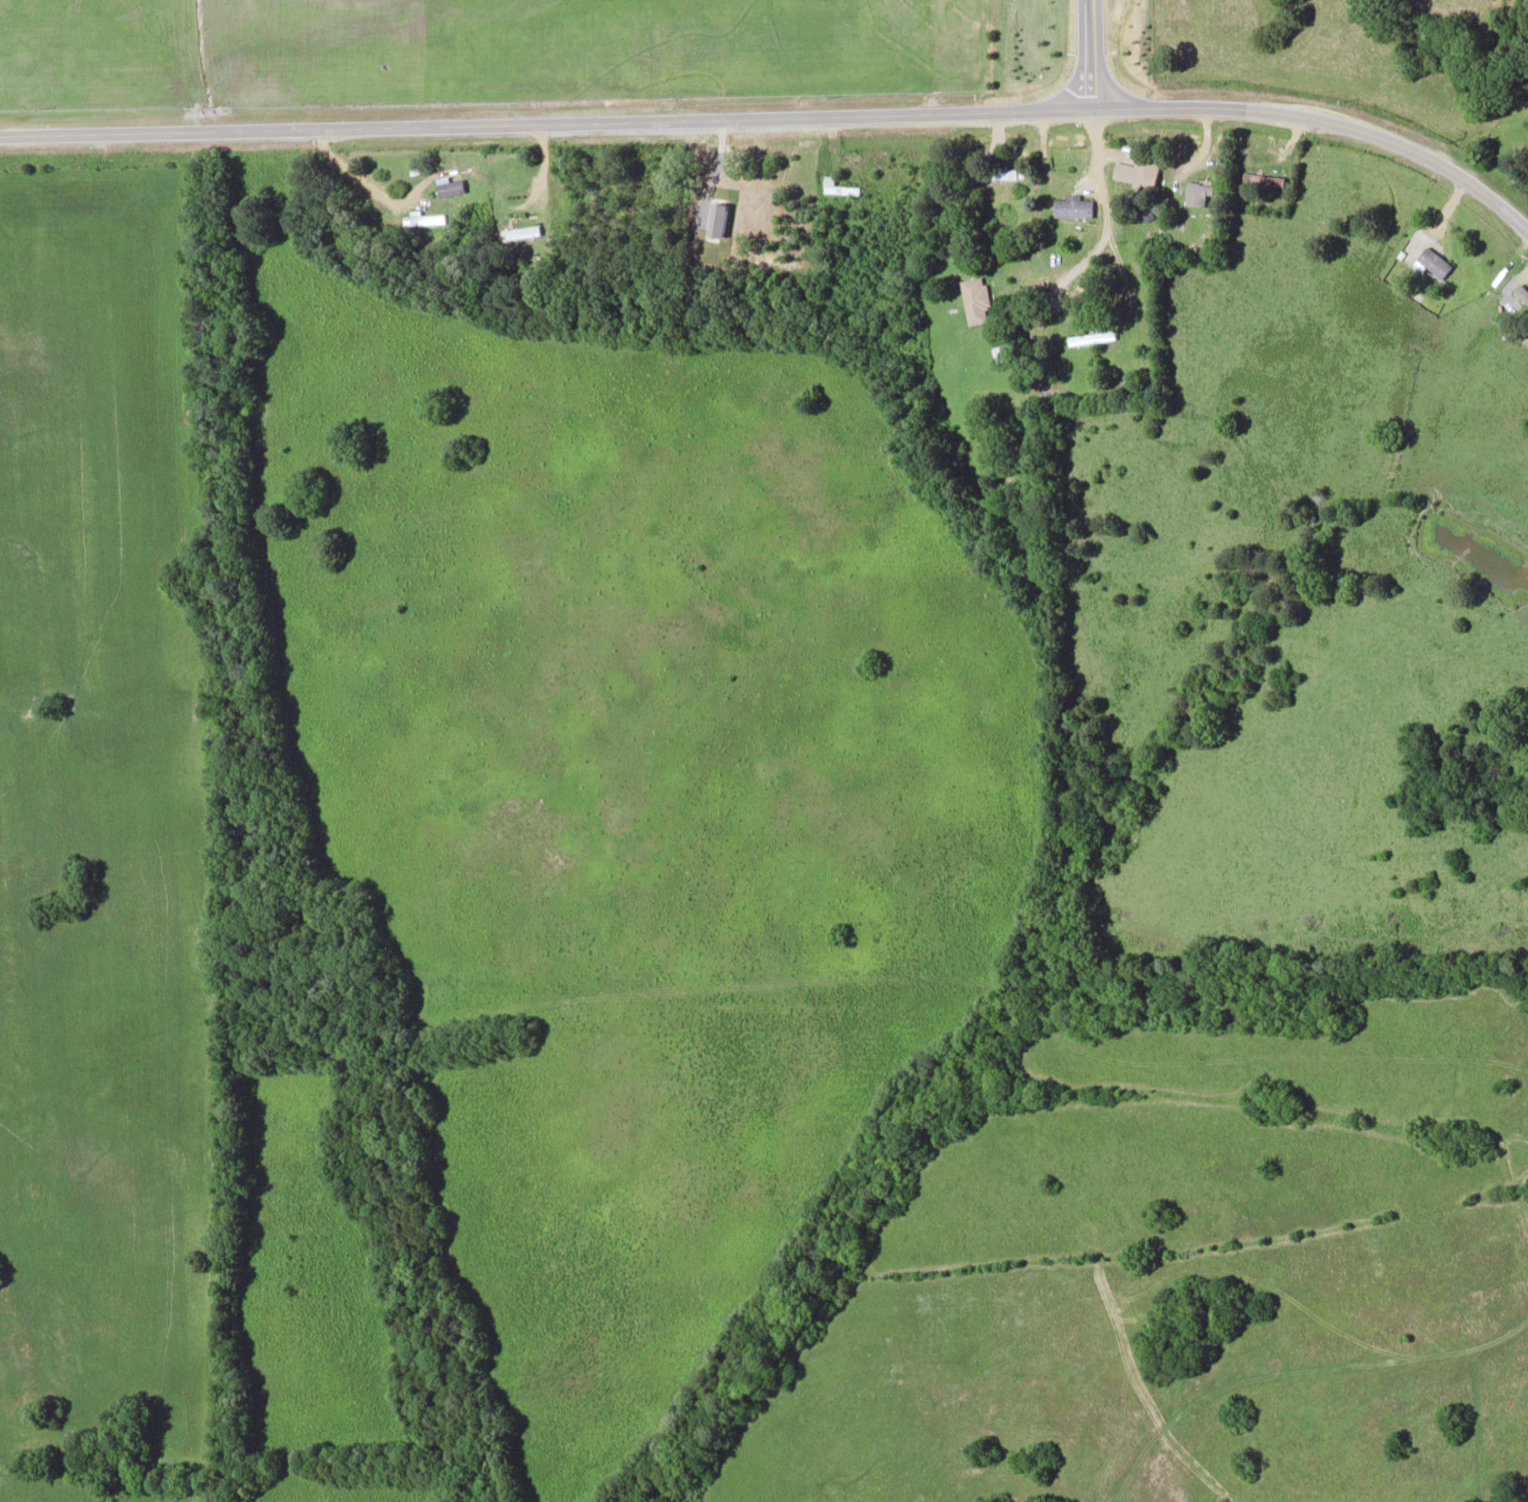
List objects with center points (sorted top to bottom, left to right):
road: (1092, 56)
road: (780, 119)
building: (1139, 169)
building: (449, 185)
building: (1197, 193)
building: (1073, 207)
road: (1104, 214)
building: (732, 221)
building: (424, 224)
building: (522, 231)
building: (1432, 261)
building: (1090, 336)

